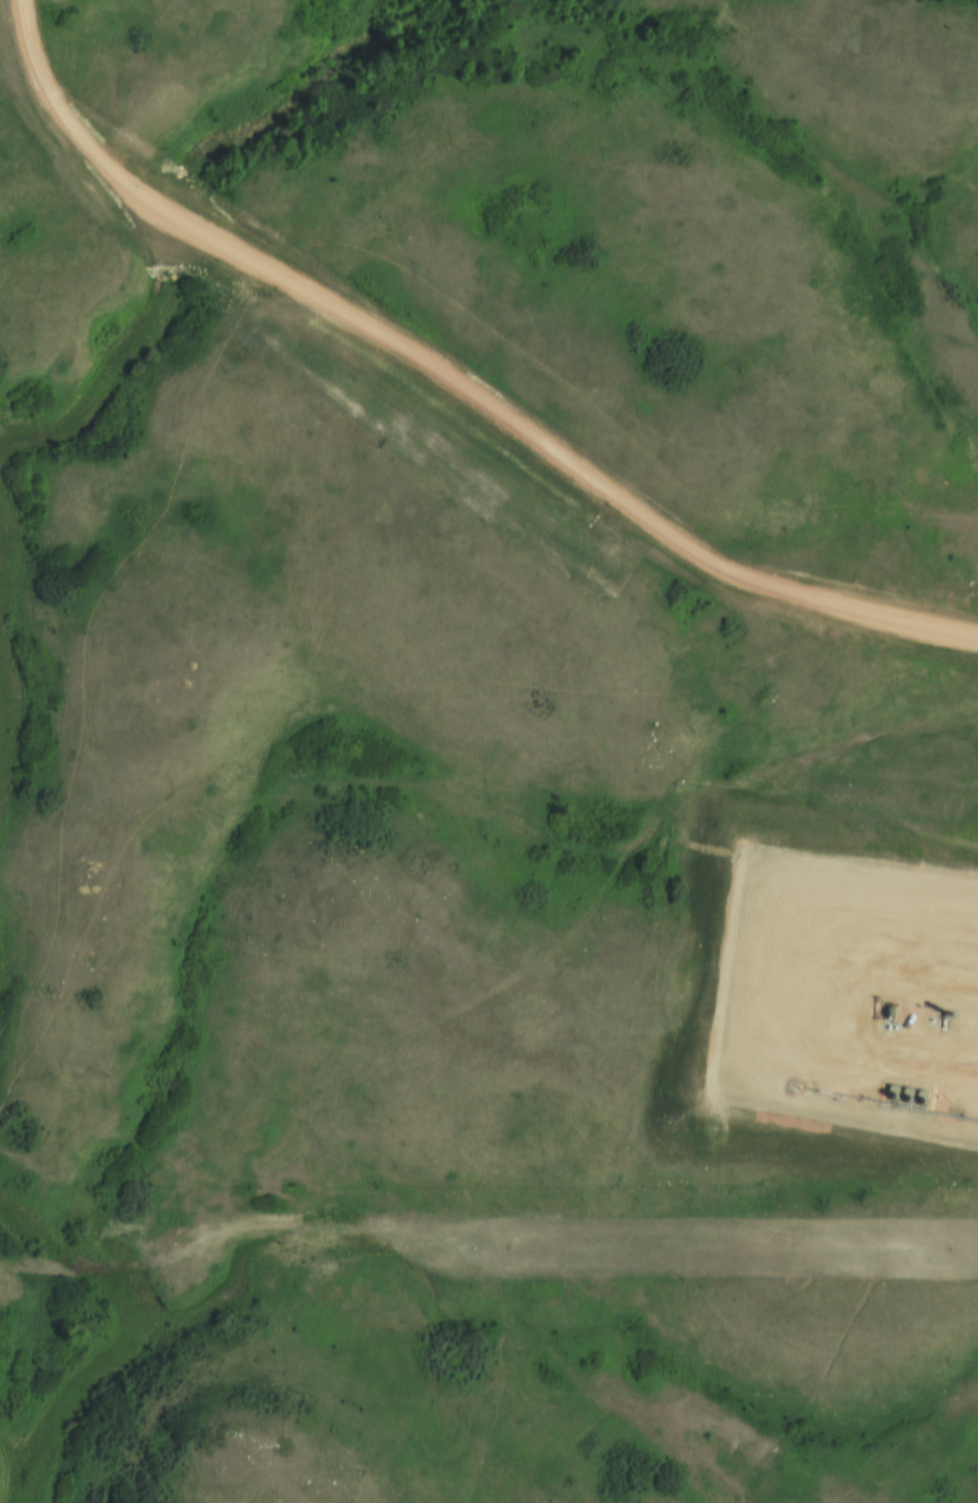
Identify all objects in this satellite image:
petroleum well: (882, 1011)
petroleum well: (941, 1015)

